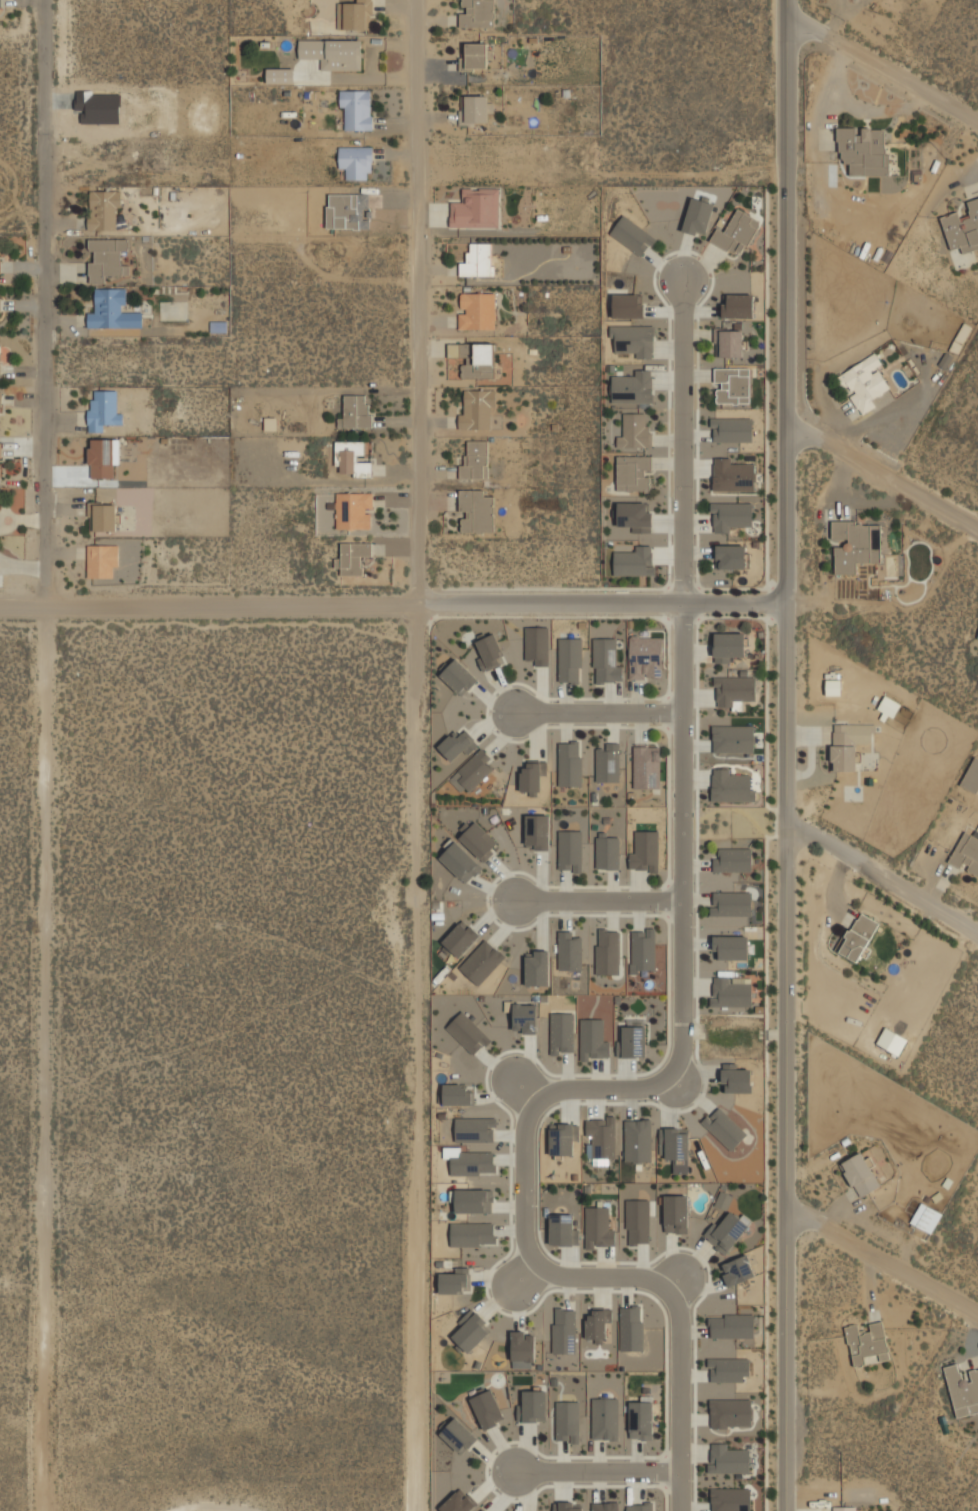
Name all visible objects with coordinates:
building: (0, 7)
building: (477, 13)
building: (354, 14)
building: (332, 53)
building: (475, 55)
road: (883, 68)
building: (279, 75)
building: (474, 108)
building: (356, 109)
building: (863, 149)
building: (356, 161)
building: (104, 209)
building: (476, 209)
building: (348, 211)
building: (698, 216)
building: (962, 227)
building: (736, 231)
building: (633, 235)
building: (106, 258)
building: (478, 260)
building: (0, 266)
building: (0, 305)
building: (627, 305)
building: (737, 306)
building: (112, 310)
building: (477, 310)
building: (961, 338)
building: (633, 339)
building: (729, 342)
building: (475, 359)
building: (864, 383)
building: (732, 385)
building: (632, 387)
building: (476, 408)
building: (102, 409)
building: (0, 410)
building: (355, 411)
building: (732, 430)
building: (634, 431)
road: (684, 442)
building: (103, 457)
building: (352, 458)
building: (0, 460)
building: (475, 461)
building: (634, 473)
building: (733, 475)
road: (883, 475)
building: (353, 510)
building: (476, 510)
building: (730, 515)
building: (104, 516)
building: (634, 516)
building: (855, 544)
building: (733, 556)
building: (352, 557)
building: (102, 559)
building: (634, 560)
road: (392, 604)
building: (977, 638)
building: (537, 645)
building: (729, 645)
building: (490, 650)
building: (646, 658)
building: (570, 659)
building: (606, 659)
building: (458, 676)
building: (733, 690)
building: (889, 705)
road: (599, 712)
building: (853, 732)
building: (733, 738)
building: (454, 744)
road: (46, 755)
road: (415, 755)
road: (785, 755)
building: (844, 757)
building: (607, 763)
building: (570, 764)
building: (646, 768)
building: (473, 770)
building: (532, 777)
building: (971, 777)
building: (731, 786)
building: (537, 831)
building: (479, 840)
building: (570, 851)
building: (607, 851)
building: (645, 851)
building: (966, 851)
building: (733, 859)
building: (459, 860)
road: (883, 874)
road: (599, 900)
building: (731, 903)
building: (858, 936)
building: (459, 939)
building: (731, 947)
building: (643, 948)
building: (607, 950)
building: (570, 951)
building: (482, 961)
building: (537, 967)
building: (732, 991)
building: (524, 1017)
building: (468, 1032)
building: (562, 1032)
building: (591, 1038)
building: (892, 1040)
building: (633, 1041)
building: (736, 1081)
road: (580, 1090)
building: (457, 1093)
building: (724, 1128)
building: (475, 1129)
building: (563, 1137)
building: (601, 1138)
building: (637, 1140)
building: (676, 1143)
building: (472, 1163)
building: (861, 1174)
building: (473, 1200)
building: (723, 1200)
building: (676, 1213)
building: (926, 1217)
building: (638, 1221)
building: (598, 1227)
building: (563, 1229)
building: (727, 1229)
building: (472, 1233)
road: (883, 1259)
building: (738, 1270)
building: (454, 1281)
building: (597, 1324)
building: (731, 1326)
building: (632, 1327)
building: (564, 1330)
building: (470, 1331)
building: (868, 1343)
building: (523, 1345)
building: (729, 1370)
building: (963, 1389)
building: (532, 1406)
building: (487, 1408)
building: (731, 1414)
building: (605, 1417)
building: (641, 1419)
building: (567, 1421)
building: (458, 1435)
building: (729, 1460)
road: (598, 1472)
building: (730, 1500)
building: (458, 1502)
building: (568, 1506)
building: (605, 1506)
building: (641, 1506)
building: (844, 1508)
building: (486, 1510)

